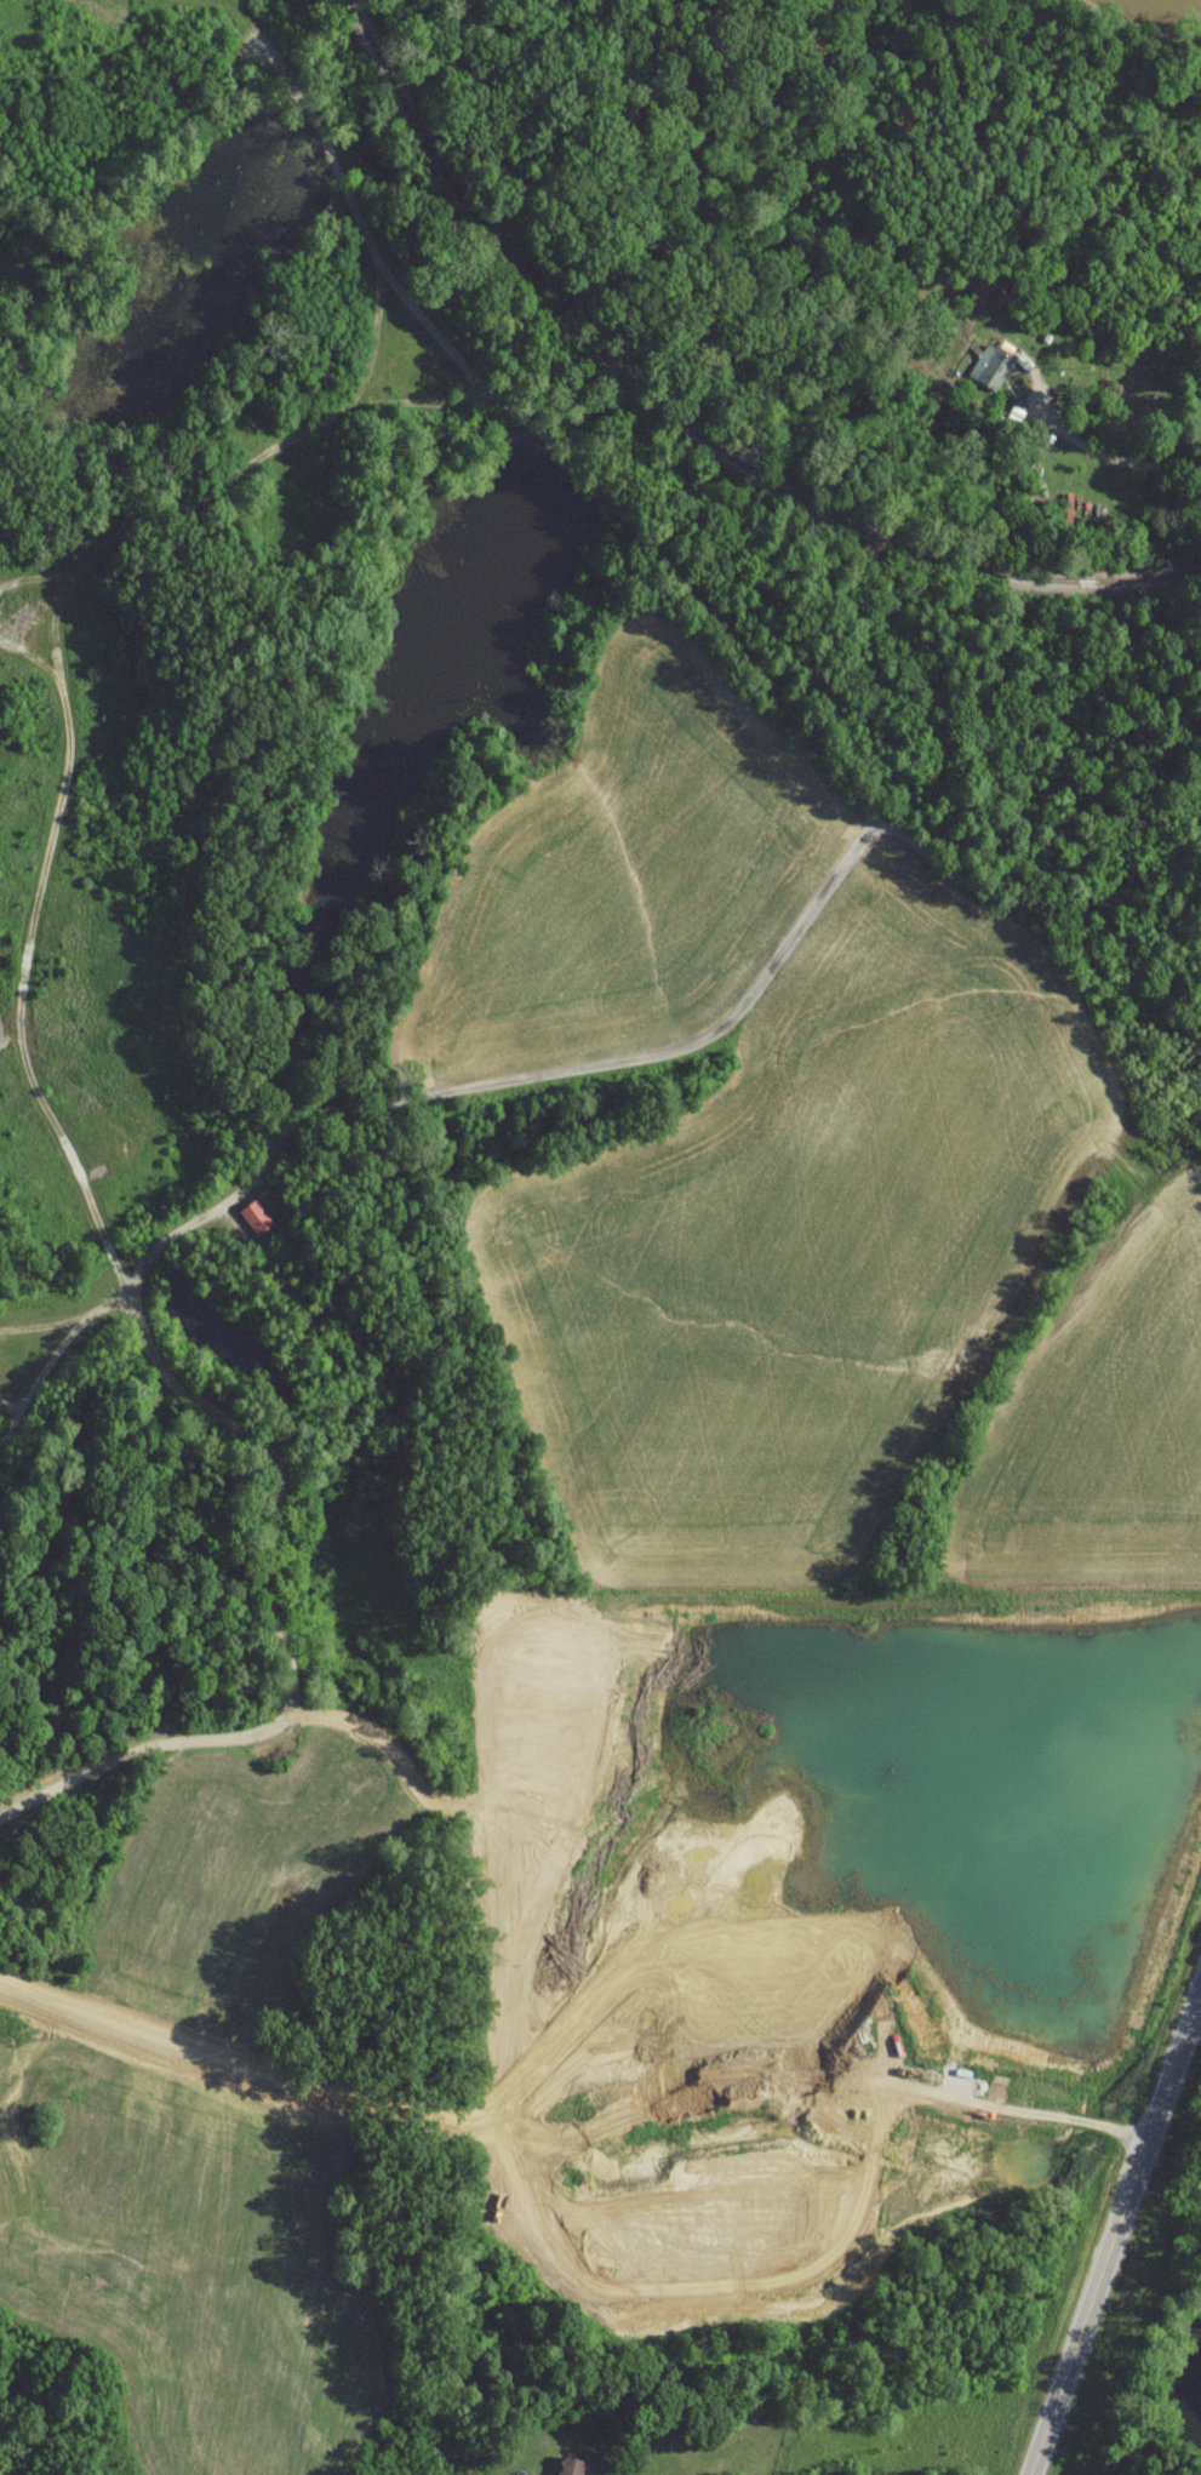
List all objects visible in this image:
building: (989, 370)
railway: (677, 434)
road: (1114, 461)
building: (253, 1224)
building: (841, 2023)
building: (956, 2028)
road: (1035, 2119)
road: (1116, 2236)
building: (568, 2469)

